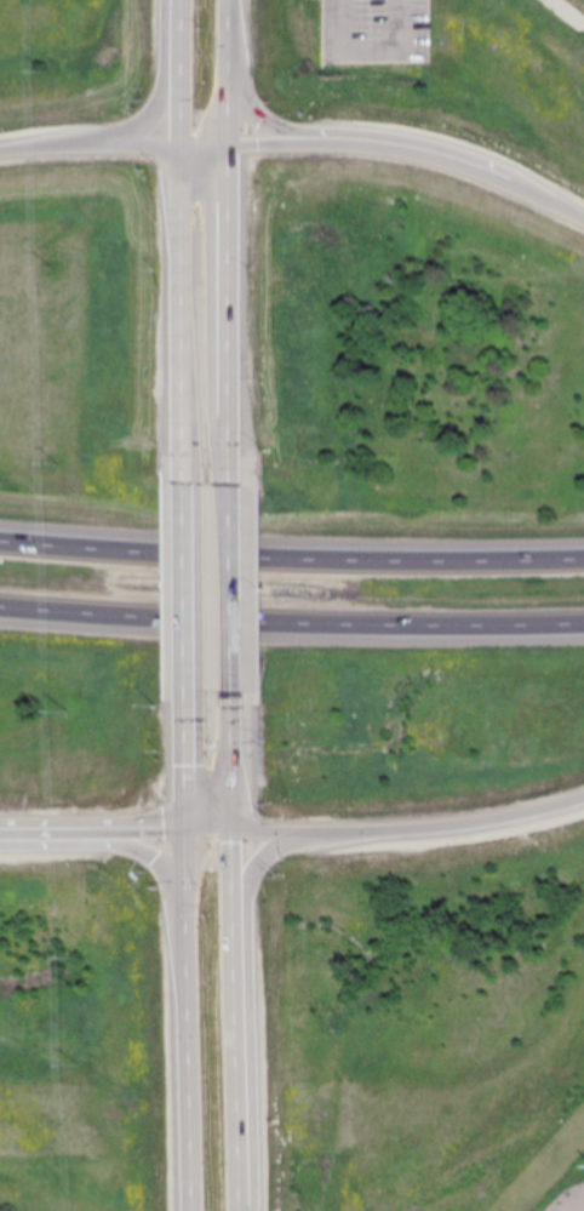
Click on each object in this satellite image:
parking lot: (374, 30)
road: (230, 32)
road: (365, 51)
power tower: (45, 73)
road: (185, 74)
road: (231, 105)
road: (258, 114)
road: (269, 145)
road: (208, 148)
road: (98, 152)
road: (5, 154)
road: (450, 162)
power tower: (50, 269)
road: (187, 316)
road: (234, 318)
power tower: (56, 465)
road: (291, 558)
road: (189, 587)
road: (236, 592)
road: (291, 622)
power tower: (65, 712)
road: (191, 760)
road: (237, 762)
road: (483, 822)
traffic signals: (191, 832)
road: (214, 832)
traffic signals: (237, 832)
road: (96, 833)
road: (309, 834)
road: (110, 847)
power tower: (69, 958)
road: (257, 1002)
road: (191, 1021)
road: (241, 1021)
power tower: (78, 1067)

